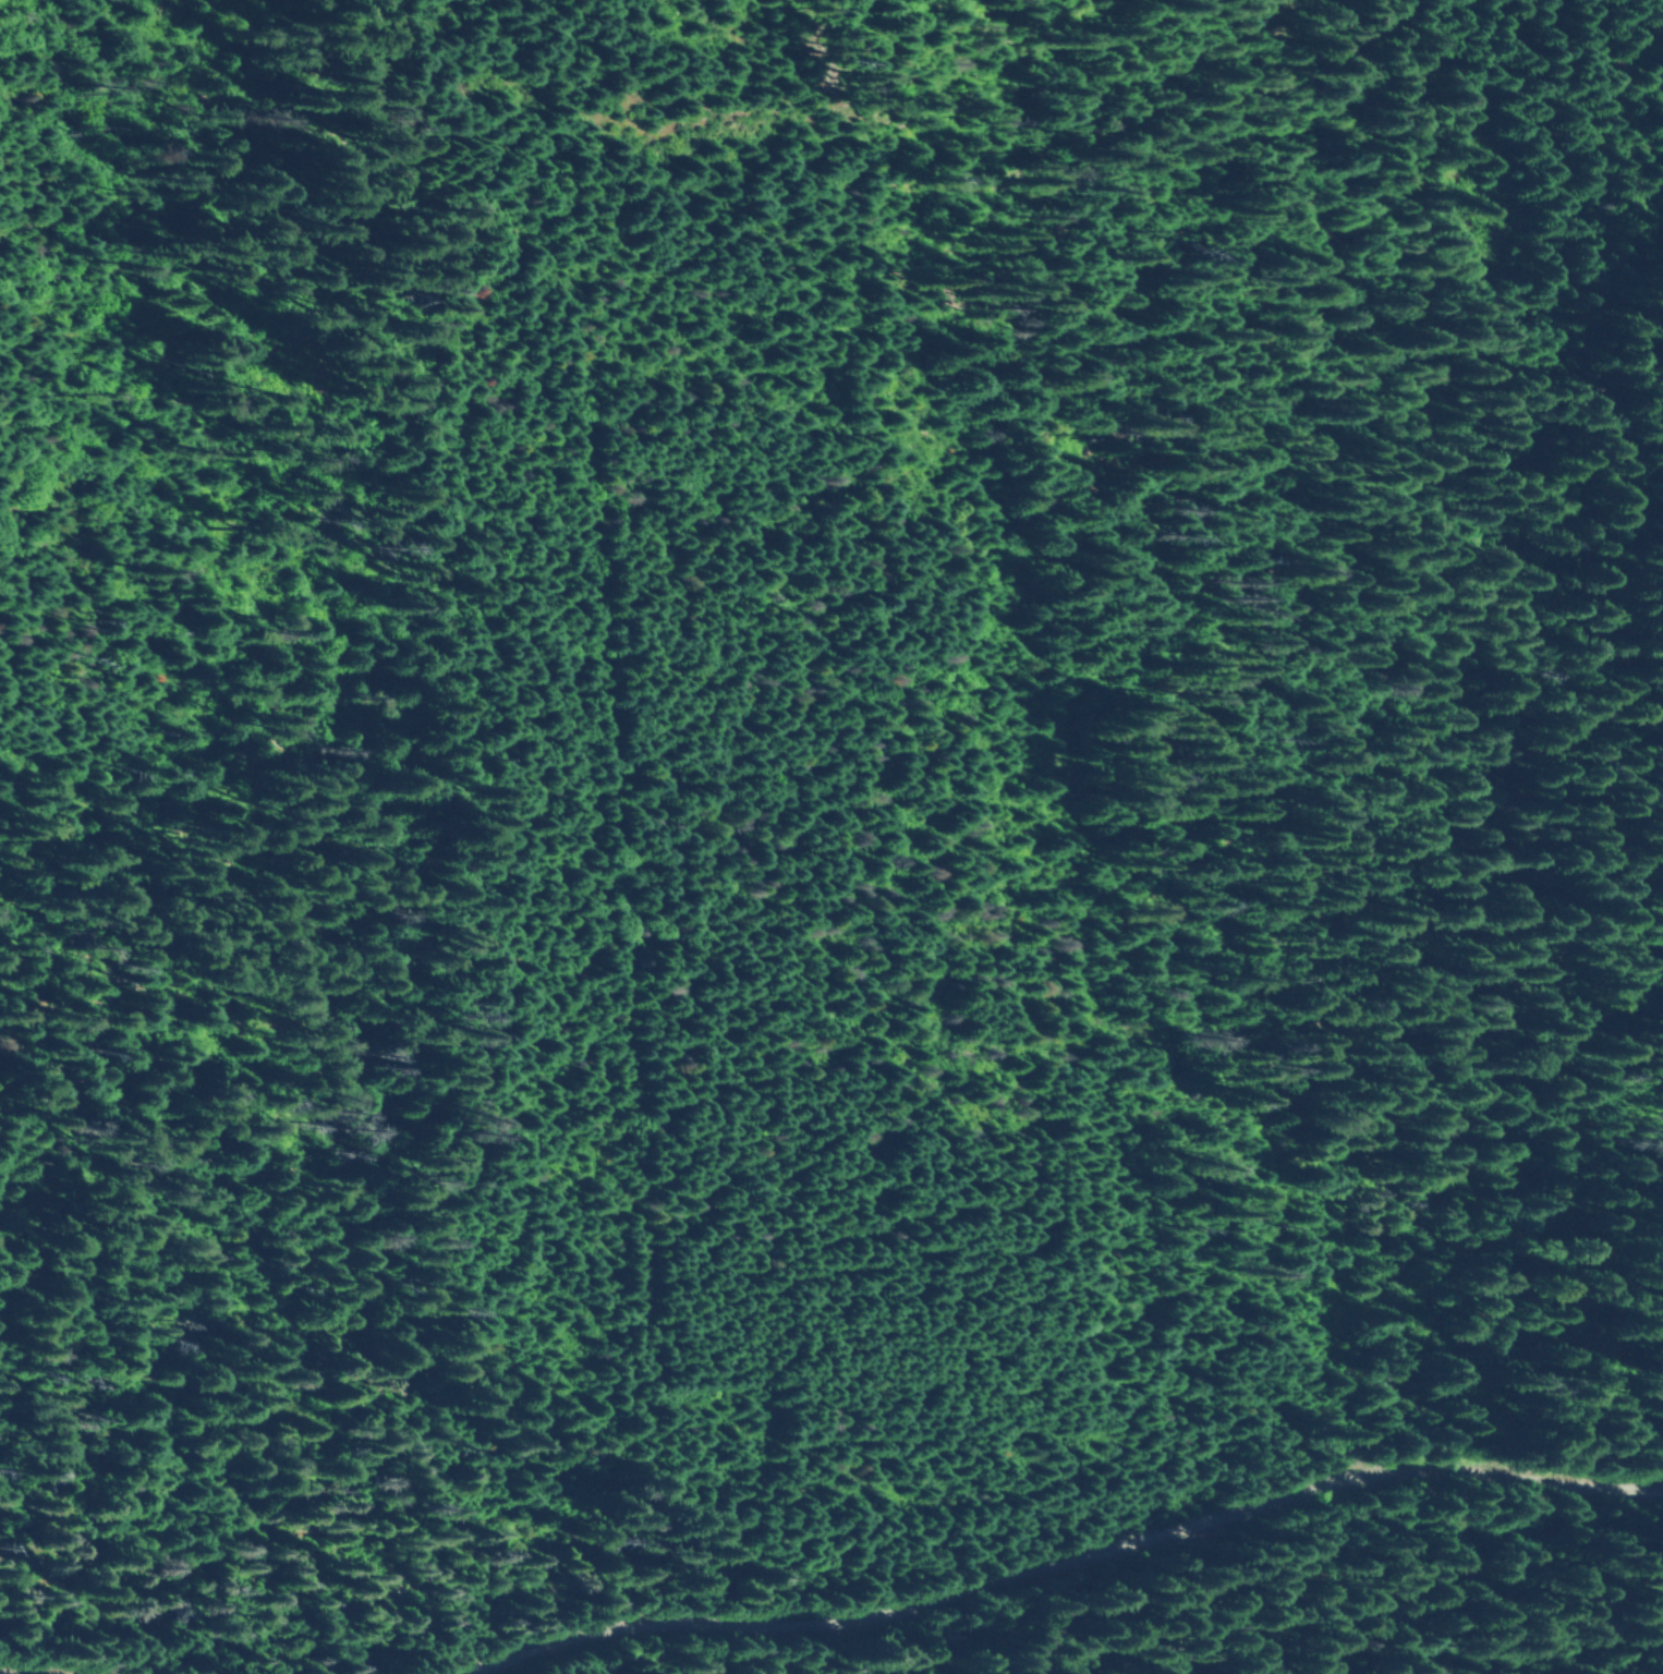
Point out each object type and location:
road: (1061, 1565)

